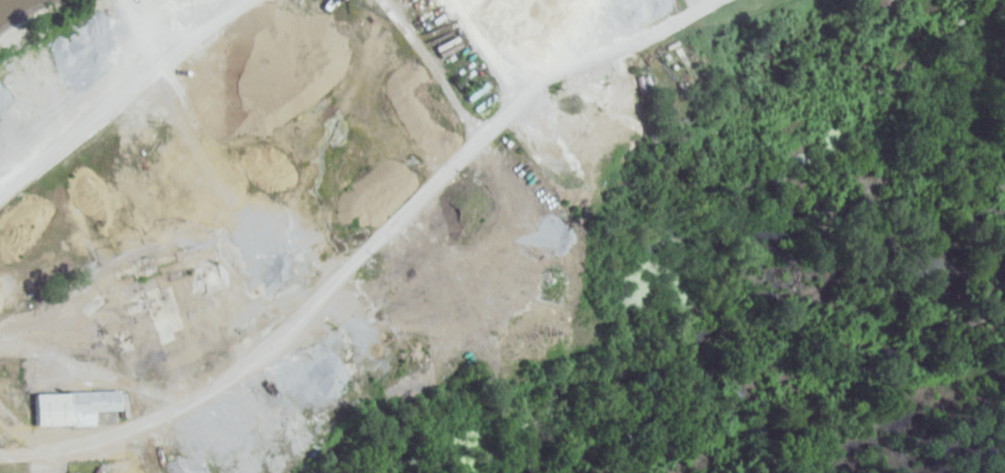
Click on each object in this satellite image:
road: (709, 2)
road: (537, 45)
road: (491, 48)
road: (116, 94)
road: (235, 135)
road: (165, 161)
road: (334, 209)
road: (360, 245)
road: (345, 274)
road: (98, 356)
building: (71, 407)

